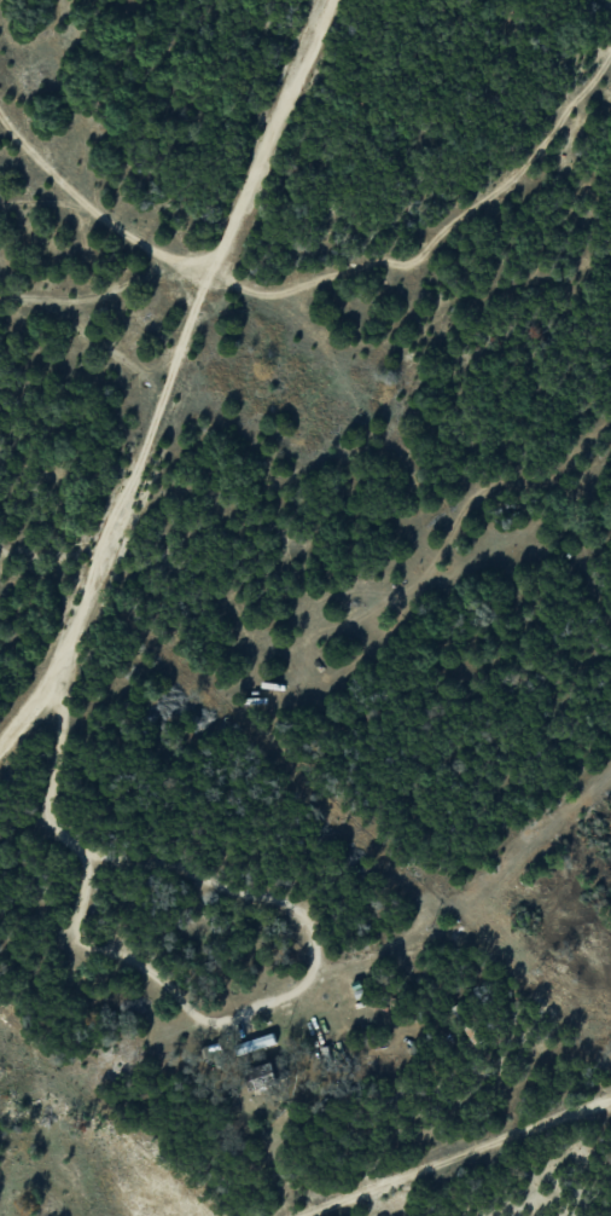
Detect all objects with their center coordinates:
road: (110, 277)
road: (178, 370)

